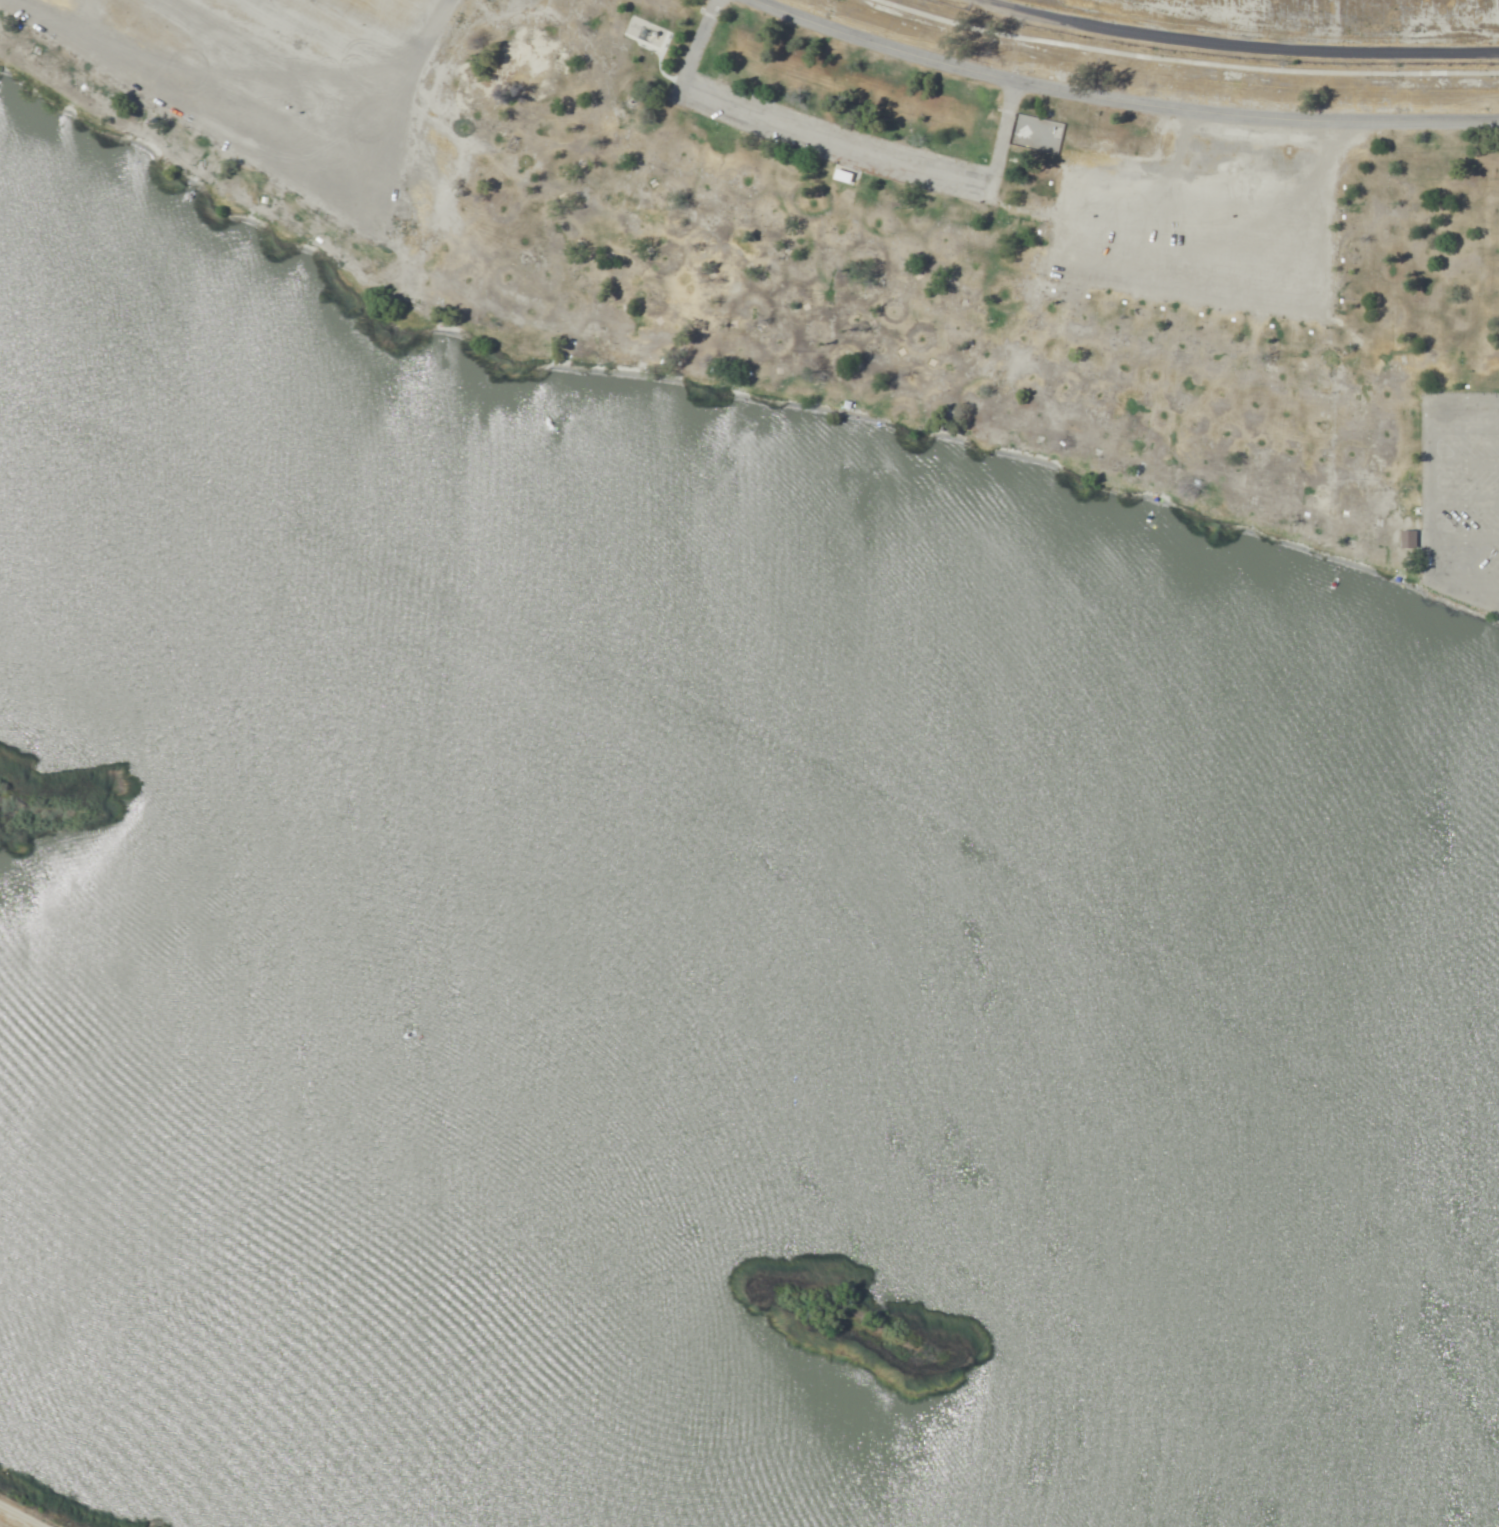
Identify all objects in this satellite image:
road: (1241, 43)
road: (1129, 96)
parking lot: (831, 135)
road: (861, 150)
building: (844, 176)
parking lot: (1210, 218)
road: (1465, 426)
parking lot: (1460, 497)
road: (1466, 501)
road: (1434, 533)
building: (1409, 538)

